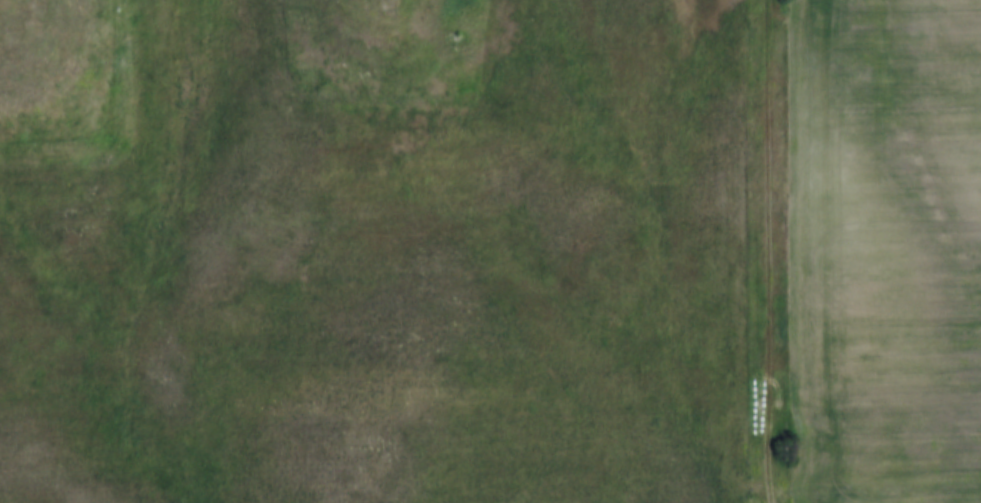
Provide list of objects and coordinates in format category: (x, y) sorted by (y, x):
road: (773, 251)

